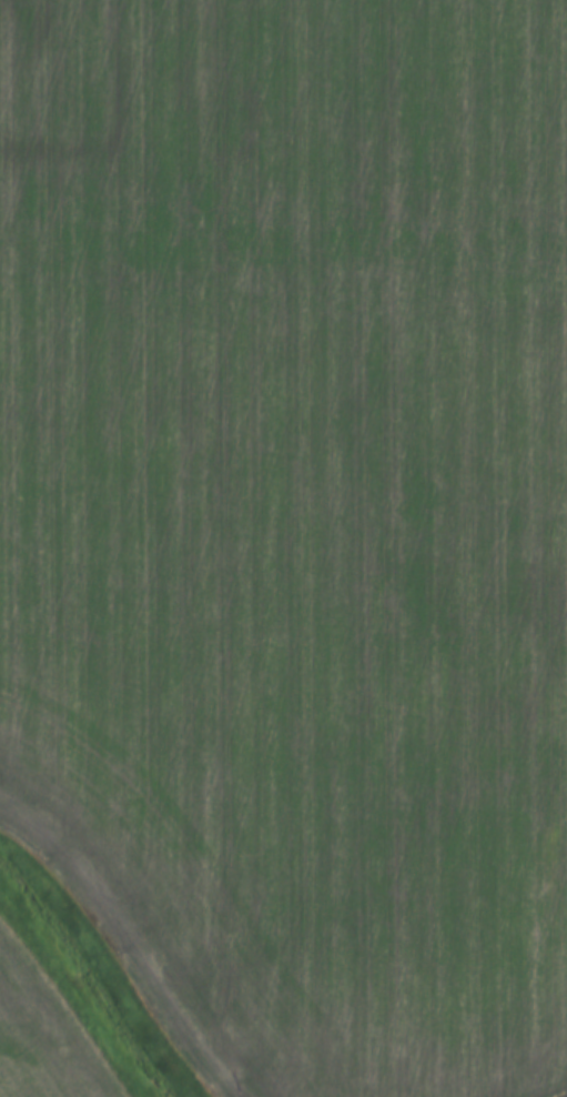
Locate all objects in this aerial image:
crop: (294, 524)
crop: (42, 1035)

